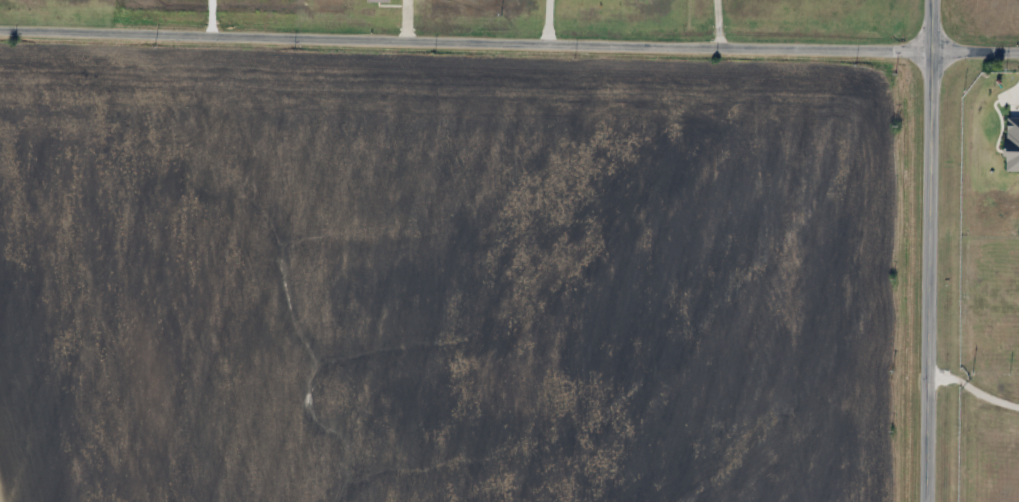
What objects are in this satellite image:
road: (550, 22)
road: (718, 24)
road: (509, 43)
road: (932, 251)
road: (974, 394)

